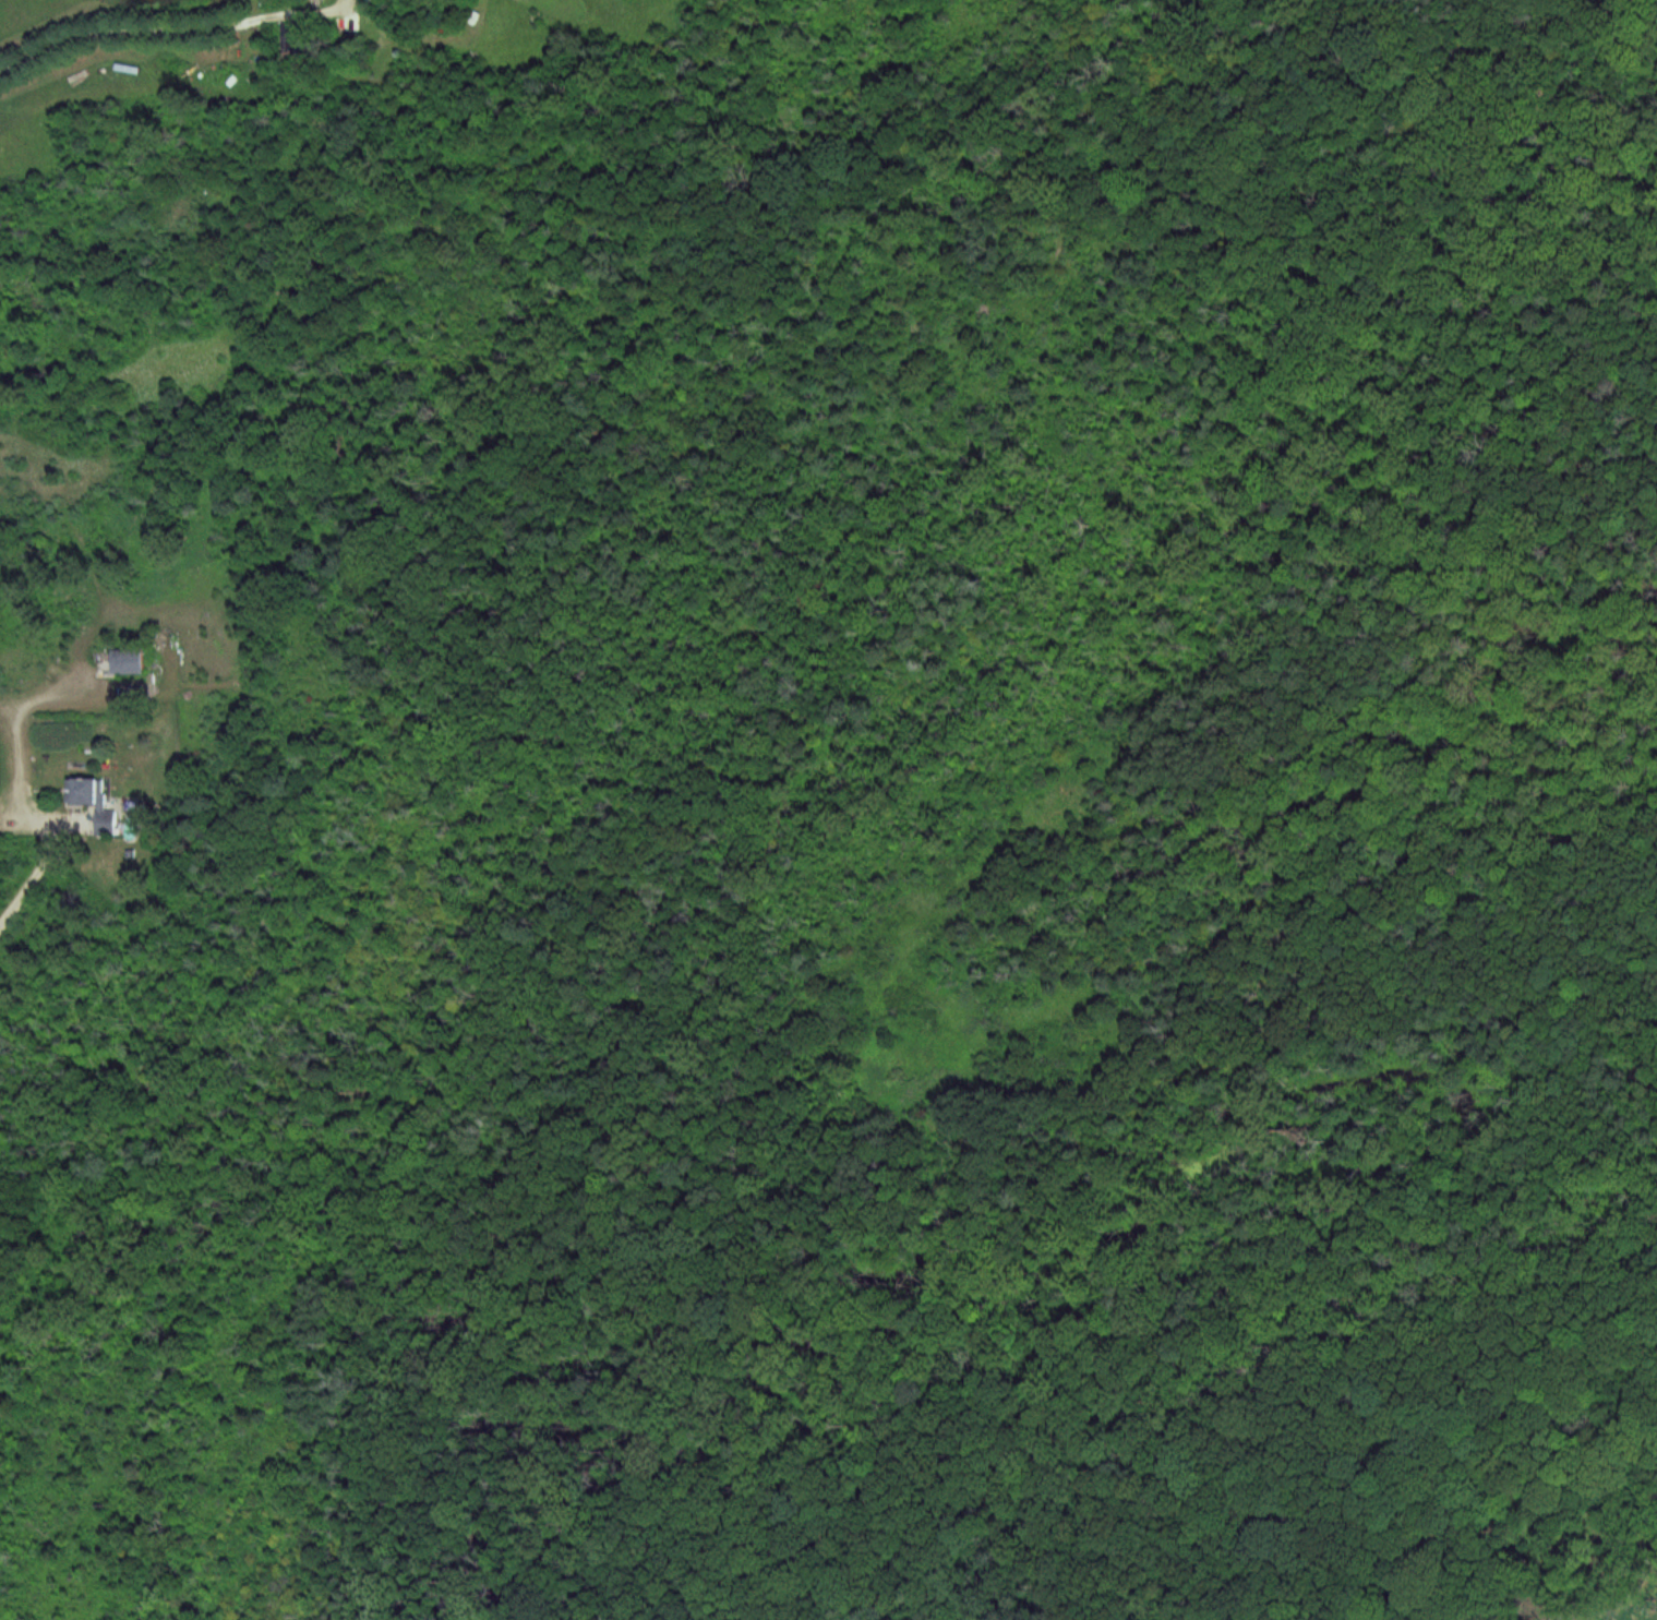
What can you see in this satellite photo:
road: (171, 31)
building: (133, 660)
road: (5, 793)
building: (97, 803)

